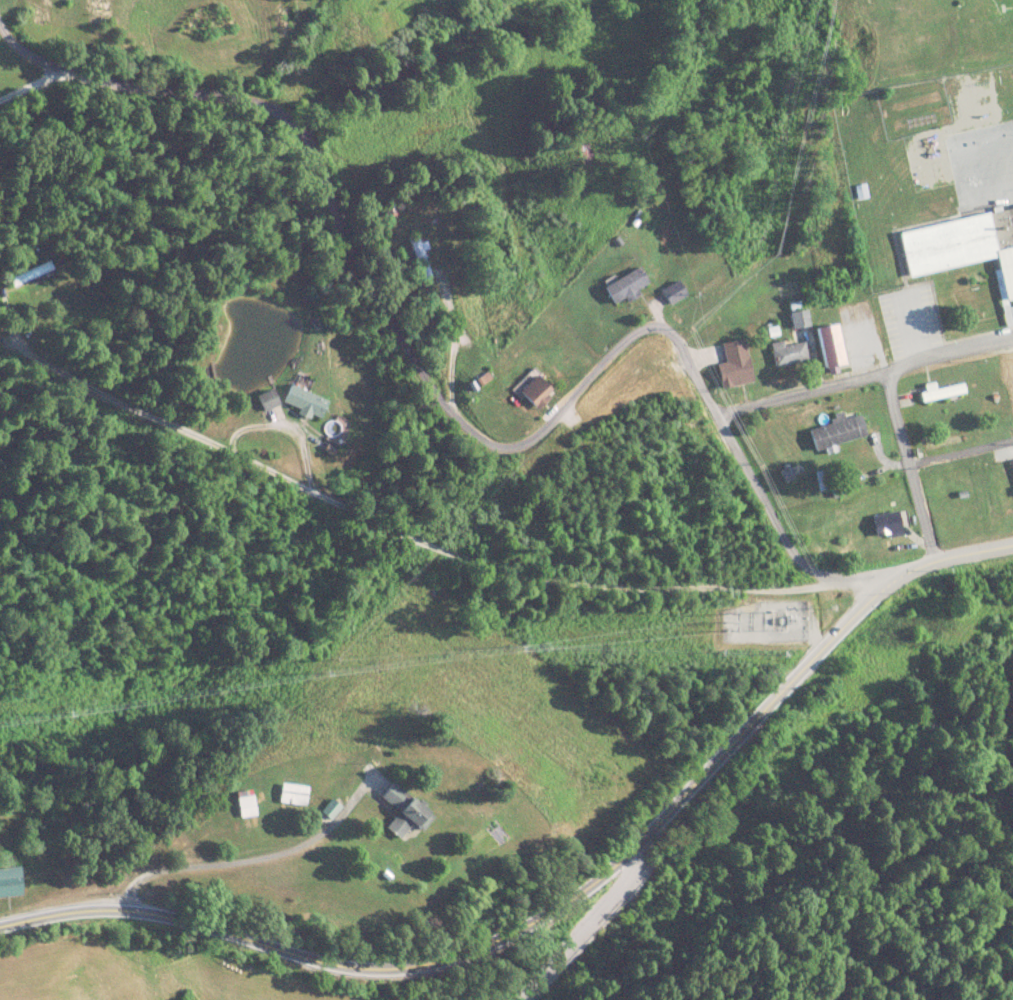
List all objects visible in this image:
road: (32, 84)
building: (587, 152)
building: (963, 248)
building: (420, 249)
road: (354, 253)
building: (629, 287)
building: (676, 292)
building: (831, 347)
building: (793, 352)
building: (737, 365)
road: (862, 377)
building: (942, 393)
building: (308, 402)
building: (840, 432)
road: (961, 451)
road: (911, 468)
road: (755, 497)
building: (893, 524)
road: (406, 544)
road: (951, 562)
building: (296, 795)
building: (248, 807)
building: (408, 811)
building: (12, 882)
road: (504, 929)
road: (516, 960)

